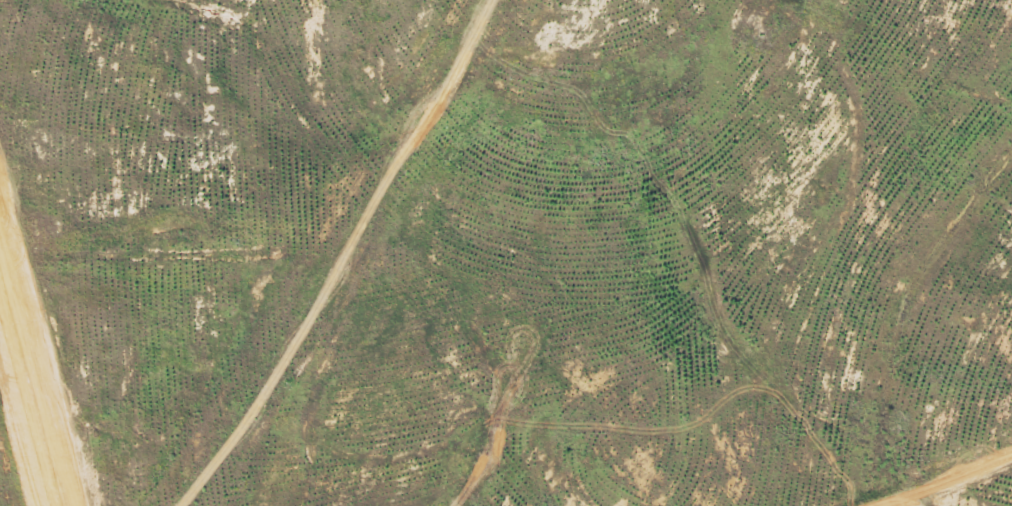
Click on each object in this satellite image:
road: (32, 391)

